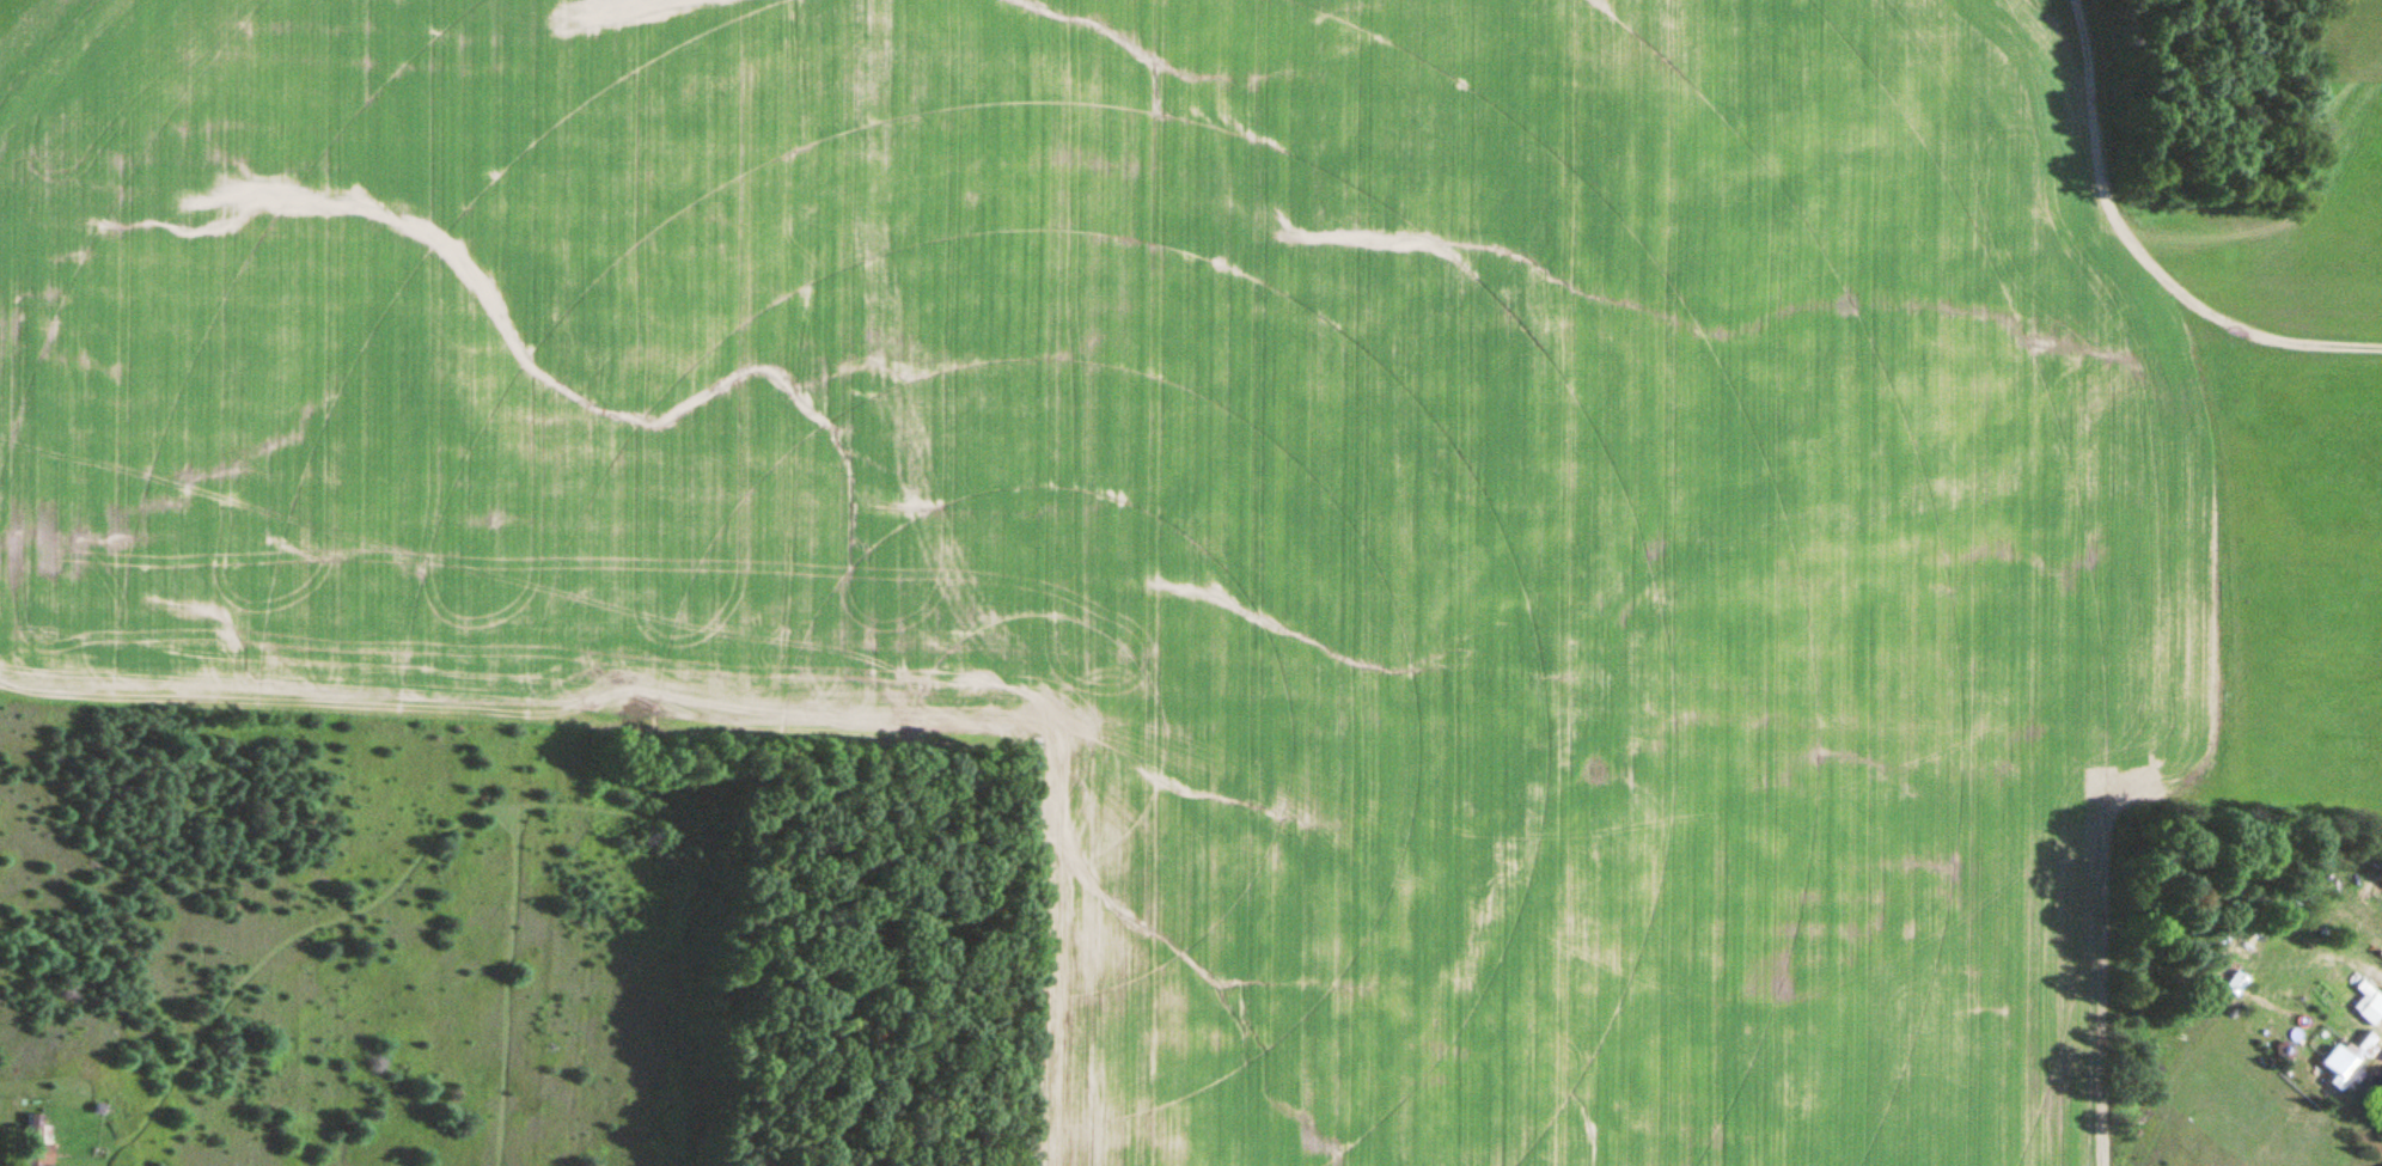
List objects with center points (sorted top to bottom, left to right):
building: (2364, 1014)
building: (2329, 1061)
building: (32, 1143)

